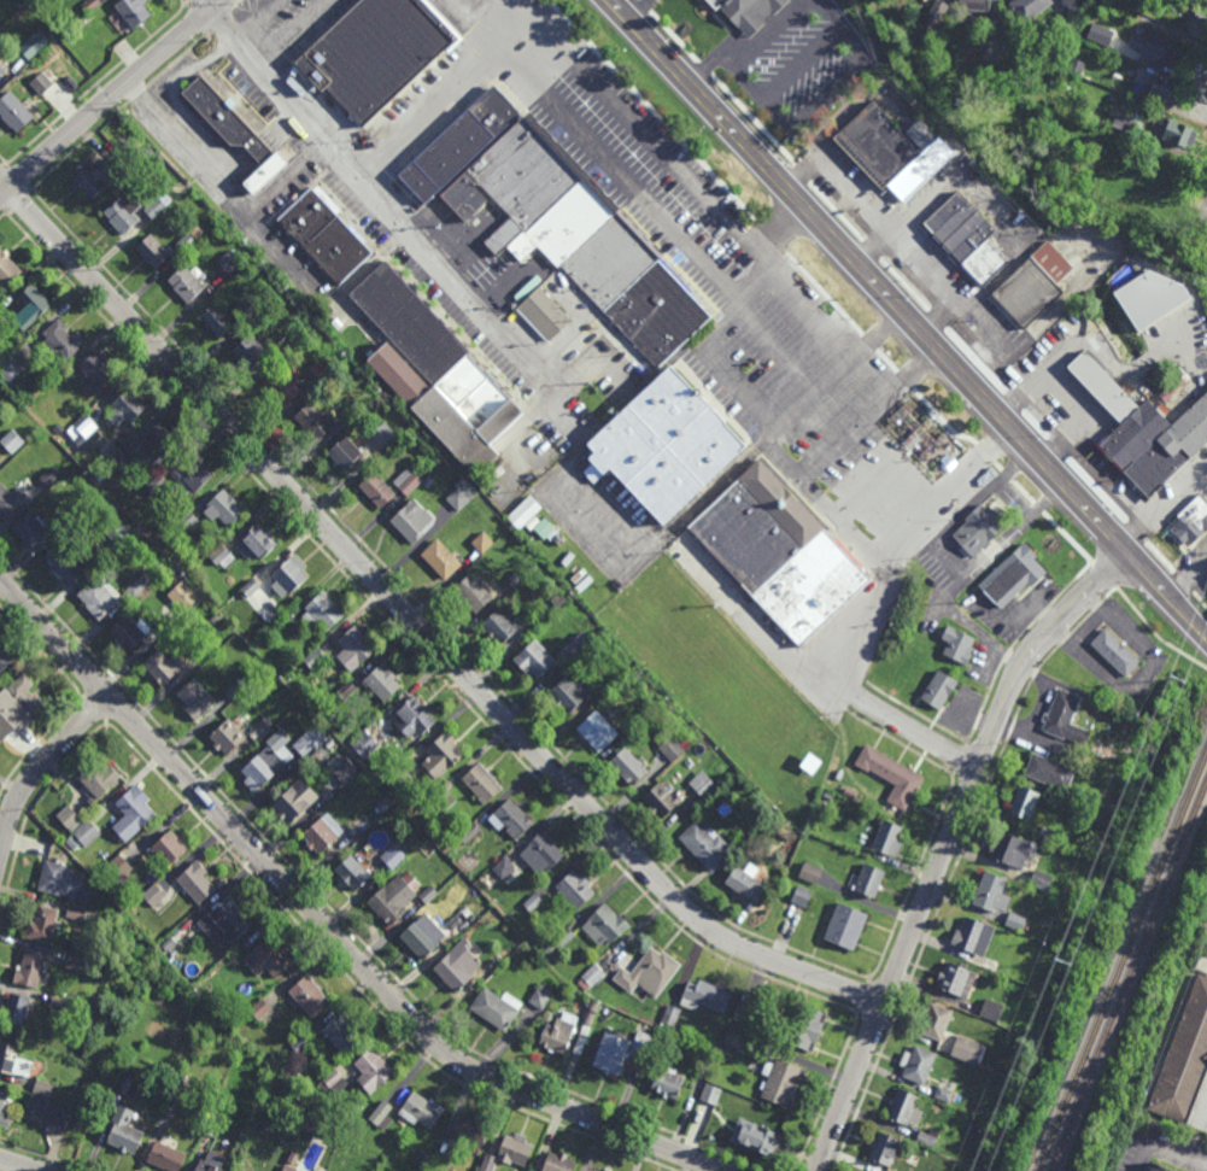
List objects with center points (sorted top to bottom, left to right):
building: (1166, 2)
road: (207, 4)
building: (92, 5)
building: (975, 5)
building: (1076, 5)
building: (25, 8)
building: (1029, 8)
building: (134, 11)
building: (937, 11)
road: (639, 12)
building: (748, 12)
road: (256, 18)
building: (1065, 25)
building: (1197, 25)
building: (76, 29)
road: (292, 31)
building: (1105, 40)
building: (35, 41)
building: (1156, 47)
road: (748, 49)
building: (375, 52)
building: (991, 57)
building: (1080, 66)
building: (2, 68)
building: (41, 82)
building: (1160, 84)
road: (1200, 90)
road: (444, 95)
road: (110, 96)
road: (822, 100)
road: (180, 106)
building: (13, 111)
building: (1121, 121)
road: (282, 125)
building: (235, 129)
building: (1174, 131)
building: (459, 142)
road: (258, 146)
building: (895, 150)
building: (1109, 153)
building: (1161, 163)
building: (1105, 169)
road: (203, 174)
road: (689, 176)
building: (93, 177)
road: (285, 181)
road: (629, 197)
road: (376, 199)
building: (1152, 201)
building: (156, 206)
building: (124, 211)
road: (779, 228)
building: (324, 235)
building: (967, 236)
building: (579, 238)
building: (186, 241)
road: (871, 246)
building: (153, 250)
road: (915, 258)
building: (230, 260)
building: (8, 267)
building: (186, 282)
building: (1033, 283)
building: (1152, 297)
building: (33, 305)
building: (252, 308)
building: (544, 315)
building: (217, 318)
road: (906, 318)
road: (942, 321)
building: (291, 336)
building: (64, 339)
road: (708, 346)
building: (251, 350)
building: (323, 368)
building: (12, 370)
building: (99, 370)
building: (435, 371)
building: (1174, 381)
building: (283, 383)
road: (921, 404)
building: (353, 408)
building: (122, 410)
road: (869, 416)
road: (790, 417)
building: (926, 420)
building: (314, 421)
road: (531, 426)
building: (60, 428)
building: (1146, 431)
building: (385, 434)
building: (80, 435)
building: (13, 440)
building: (158, 443)
building: (664, 445)
building: (345, 452)
building: (118, 458)
road: (886, 469)
building: (193, 473)
building: (411, 480)
building: (156, 485)
building: (377, 488)
building: (462, 493)
road: (942, 493)
building: (10, 499)
road: (819, 499)
road: (1165, 505)
building: (224, 508)
building: (189, 520)
building: (411, 520)
building: (535, 520)
building: (980, 527)
building: (1188, 529)
building: (35, 531)
building: (119, 531)
building: (256, 541)
road: (621, 541)
building: (484, 543)
building: (781, 552)
building: (218, 554)
building: (441, 560)
road: (951, 560)
building: (68, 563)
building: (289, 574)
building: (1013, 575)
building: (517, 578)
building: (141, 584)
building: (250, 589)
building: (473, 593)
building: (100, 597)
building: (182, 597)
building: (322, 611)
building: (541, 616)
road: (967, 622)
building: (165, 625)
building: (221, 625)
road: (417, 625)
building: (500, 626)
building: (130, 633)
building: (957, 644)
building: (355, 649)
building: (580, 650)
building: (1117, 652)
building: (315, 657)
building: (535, 660)
road: (797, 660)
building: (4, 661)
road: (990, 662)
building: (160, 667)
building: (639, 674)
power tower: (1177, 681)
building: (383, 683)
building: (608, 684)
road: (839, 684)
building: (236, 689)
building: (939, 690)
building: (346, 691)
building: (1106, 691)
building: (570, 693)
building: (198, 697)
building: (22, 702)
building: (1065, 716)
building: (415, 718)
building: (268, 721)
building: (599, 730)
building: (229, 734)
road: (919, 734)
building: (330, 743)
building: (364, 744)
building: (672, 748)
building: (444, 753)
building: (283, 756)
building: (1126, 756)
building: (628, 765)
road: (40, 767)
building: (344, 767)
building: (1049, 771)
building: (892, 773)
building: (100, 775)
building: (399, 775)
building: (484, 781)
building: (703, 781)
building: (828, 795)
building: (297, 798)
building: (444, 798)
building: (662, 800)
building: (1024, 801)
building: (383, 803)
building: (135, 810)
building: (70, 816)
building: (511, 818)
building: (1050, 830)
building: (469, 831)
building: (87, 832)
building: (323, 832)
building: (889, 837)
building: (707, 844)
building: (170, 845)
road: (948, 847)
building: (1012, 849)
building: (541, 851)
building: (393, 856)
building: (121, 866)
building: (505, 867)
building: (353, 871)
building: (811, 872)
building: (61, 878)
building: (868, 879)
building: (198, 880)
building: (1041, 880)
building: (748, 883)
building: (1023, 884)
building: (576, 889)
building: (992, 891)
building: (156, 895)
building: (802, 895)
building: (398, 896)
building: (534, 901)
building: (76, 911)
building: (225, 920)
building: (1015, 920)
building: (43, 924)
road: (323, 925)
building: (605, 925)
building: (846, 925)
building: (462, 927)
building: (974, 935)
building: (423, 936)
building: (564, 938)
building: (170, 943)
building: (270, 958)
building: (496, 960)
railway: (1121, 960)
building: (76, 962)
building: (31, 967)
power tower: (1061, 967)
building: (459, 968)
building: (649, 972)
railway: (1127, 976)
building: (591, 977)
building: (955, 978)
building: (310, 994)
building: (707, 995)
building: (543, 996)
building: (59, 1005)
building: (596, 1006)
building: (17, 1007)
building: (497, 1007)
building: (259, 1008)
building: (992, 1008)
building: (748, 1013)
building: (669, 1015)
building: (591, 1018)
building: (937, 1020)
building: (955, 1024)
building: (804, 1026)
building: (342, 1031)
building: (561, 1032)
building: (737, 1037)
building: (582, 1040)
building: (301, 1044)
building: (640, 1046)
building: (968, 1048)
building: (611, 1052)
building: (13, 1060)
building: (1184, 1060)
building: (704, 1064)
building: (918, 1064)
building: (373, 1068)
building: (781, 1081)
building: (334, 1082)
building: (668, 1082)
building: (130, 1087)
building: (710, 1093)
building: (947, 1095)
building: (2, 1100)
building: (47, 1103)
building: (175, 1106)
building: (906, 1107)
building: (422, 1109)
building: (382, 1114)
building: (307, 1125)
building: (213, 1126)
building: (127, 1130)
building: (474, 1131)
building: (928, 1137)
building: (285, 1138)
building: (767, 1142)
building: (884, 1149)
building: (510, 1152)
road: (1165, 1153)
building: (168, 1157)
building: (293, 1158)
building: (426, 1158)
building: (561, 1163)
building: (441, 1164)
road: (16, 1165)
building: (209, 1167)
building: (1159, 1167)
building: (289, 1169)
building: (600, 1169)
building: (596, 1170)

